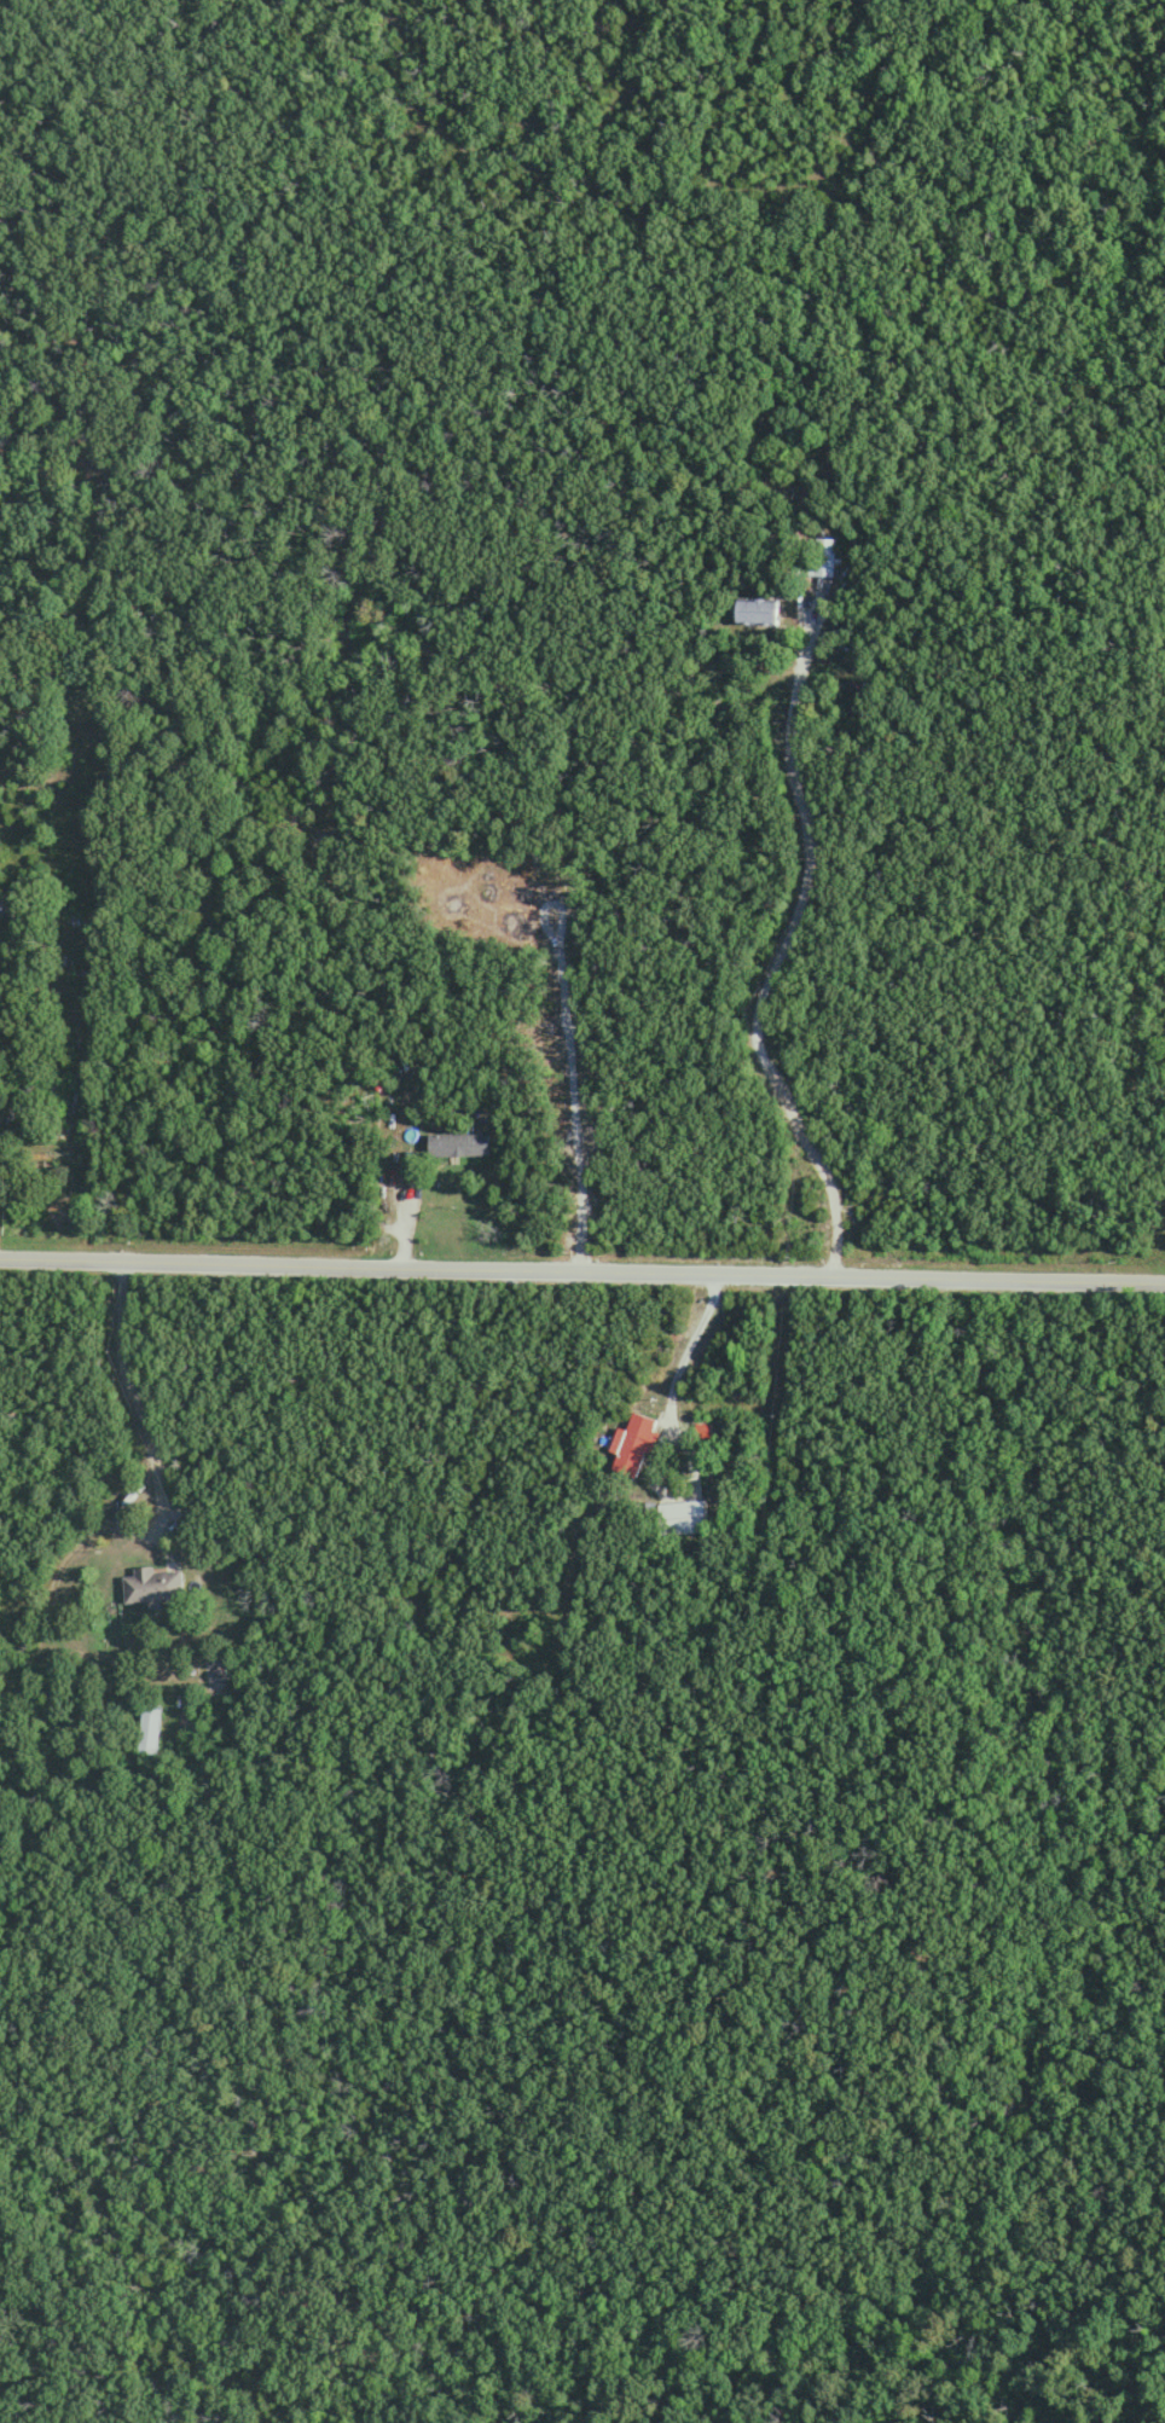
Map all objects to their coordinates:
building: (823, 556)
road: (244, 605)
building: (755, 610)
road: (708, 636)
building: (2, 903)
road: (778, 953)
building: (457, 1144)
road: (581, 1268)
building: (702, 1430)
building: (633, 1443)
road: (686, 1583)
building: (151, 1584)
road: (122, 1616)
building: (216, 1675)
building: (150, 1726)

